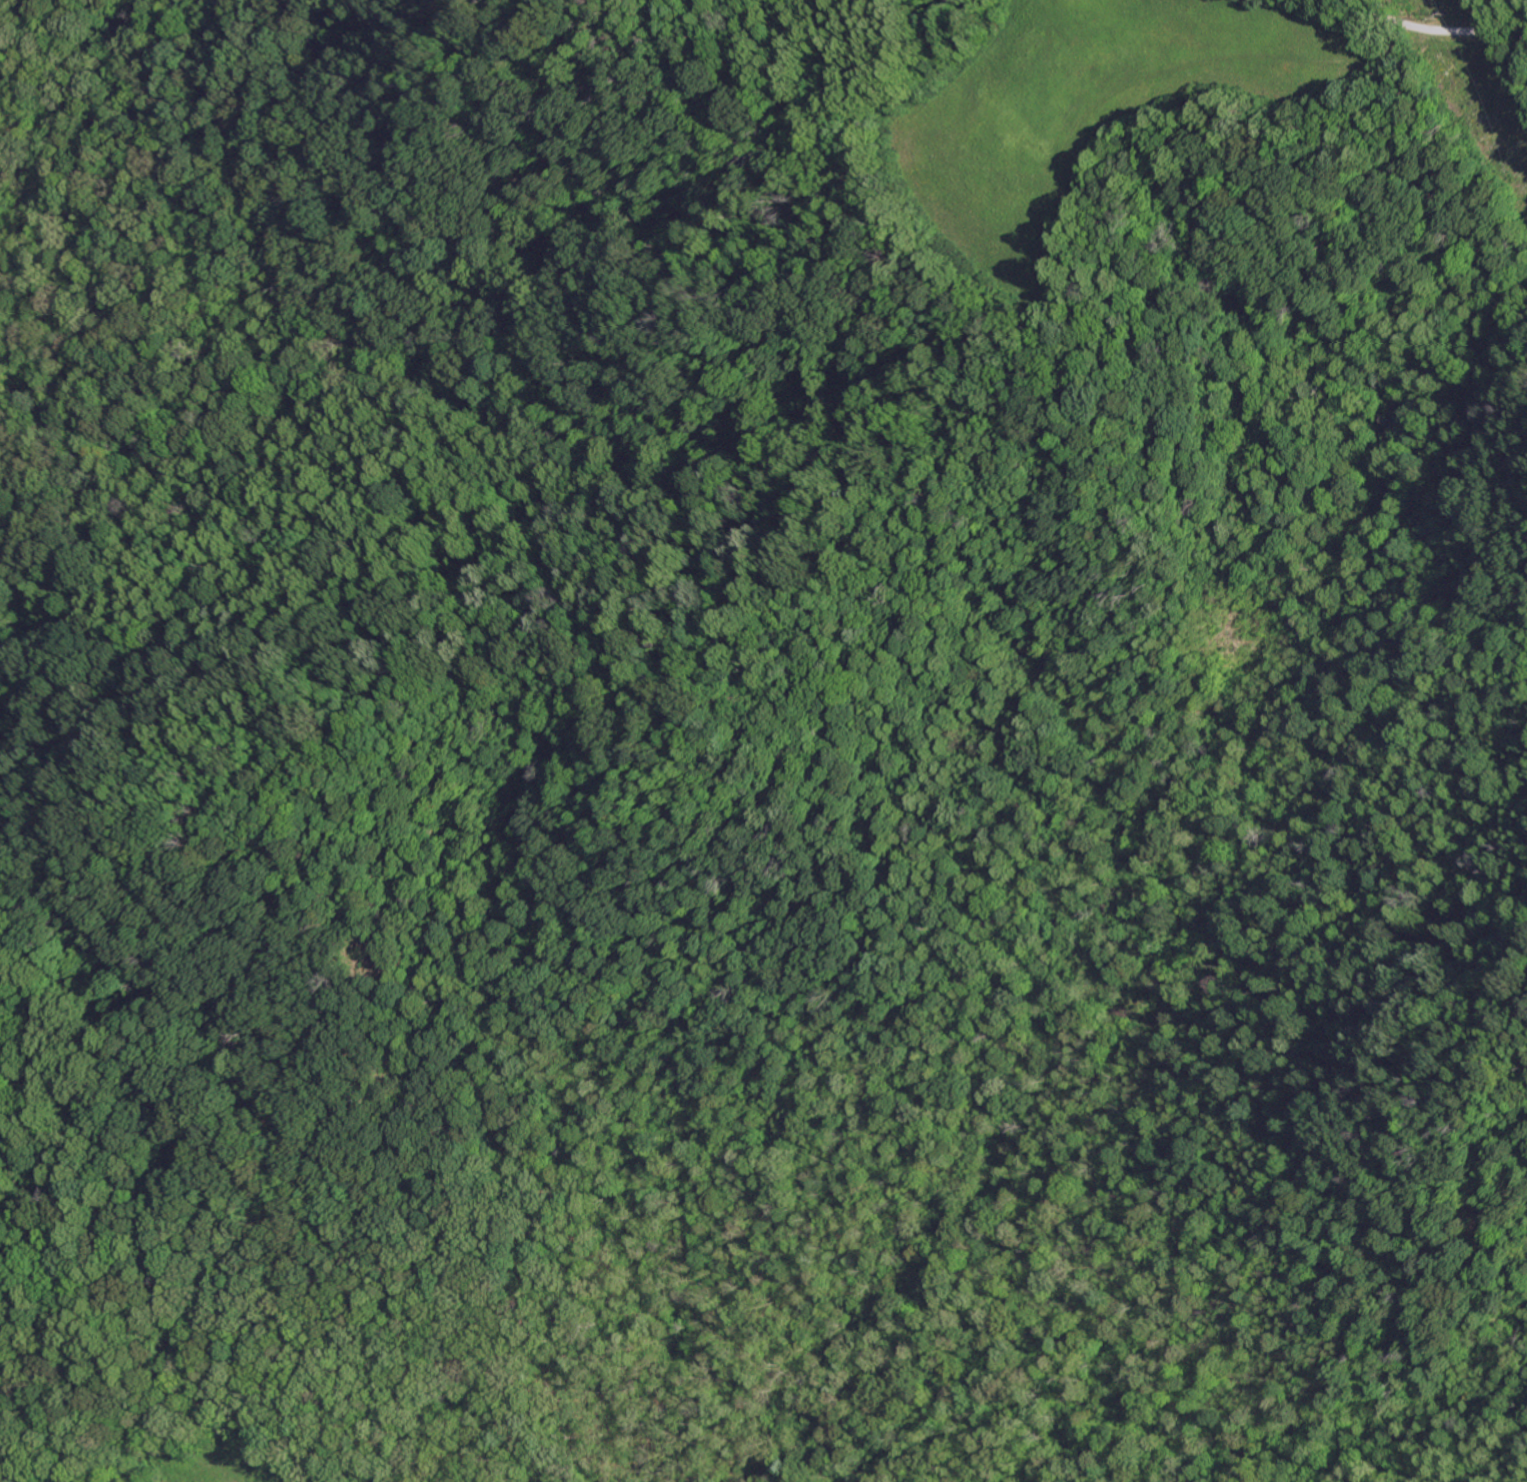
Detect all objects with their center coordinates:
road: (1427, 30)

